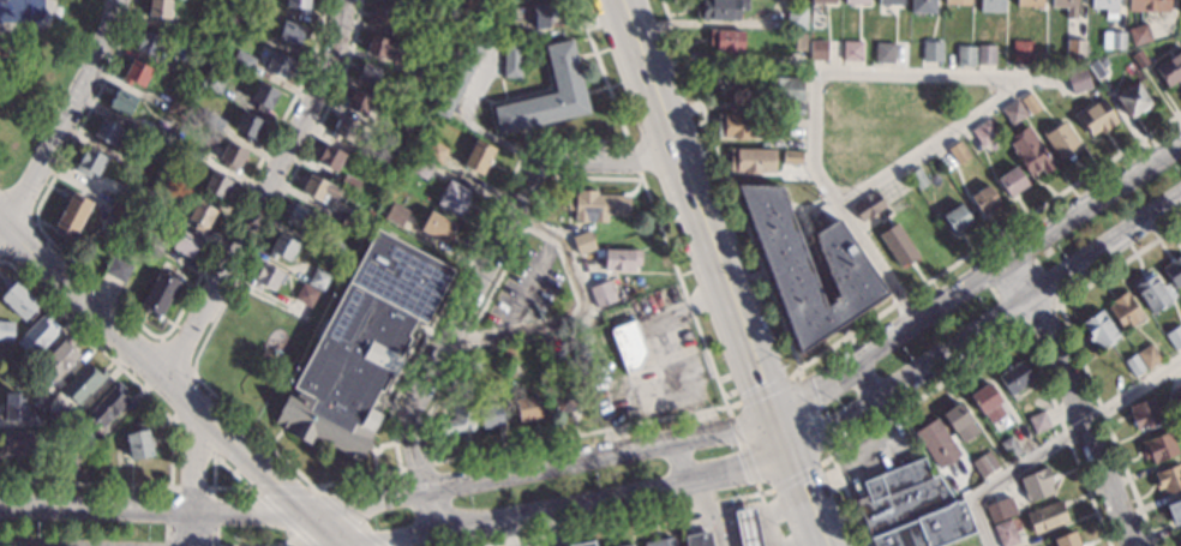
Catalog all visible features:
building: (462, 1)
building: (822, 1)
building: (856, 2)
building: (891, 2)
building: (955, 2)
building: (1029, 4)
building: (299, 5)
building: (1149, 5)
building: (427, 6)
building: (922, 6)
building: (990, 6)
building: (1066, 7)
building: (1105, 7)
building: (1180, 7)
building: (158, 8)
building: (719, 10)
building: (533, 14)
building: (382, 16)
building: (796, 18)
road: (34, 25)
building: (292, 34)
building: (1139, 35)
building: (420, 38)
building: (725, 40)
building: (1111, 40)
building: (799, 42)
building: (149, 43)
building: (384, 48)
building: (817, 49)
building: (1074, 49)
building: (851, 50)
building: (931, 50)
building: (1021, 52)
building: (883, 53)
building: (985, 54)
building: (966, 55)
building: (512, 60)
building: (1138, 60)
building: (242, 61)
building: (1104, 64)
building: (280, 65)
building: (1170, 68)
park: (36, 70)
building: (1096, 70)
road: (909, 72)
building: (370, 73)
building: (136, 74)
building: (431, 74)
building: (458, 77)
building: (1078, 80)
building: (214, 83)
building: (779, 89)
building: (548, 95)
building: (262, 97)
building: (1133, 100)
building: (358, 101)
building: (122, 102)
building: (1029, 104)
building: (413, 106)
building: (178, 107)
building: (793, 109)
building: (1013, 113)
road: (64, 115)
building: (1096, 118)
building: (214, 122)
building: (739, 126)
building: (247, 127)
building: (107, 132)
building: (347, 132)
building: (984, 133)
building: (161, 137)
building: (1062, 143)
building: (191, 151)
building: (436, 152)
building: (958, 152)
building: (1030, 152)
building: (232, 156)
building: (330, 157)
building: (479, 157)
building: (792, 158)
building: (751, 161)
building: (89, 163)
building: (388, 164)
building: (142, 167)
building: (420, 167)
building: (917, 178)
building: (1012, 181)
building: (349, 184)
building: (217, 186)
building: (318, 188)
building: (158, 190)
road: (260, 191)
building: (128, 197)
building: (452, 198)
building: (984, 200)
building: (597, 206)
building: (868, 206)
building: (118, 212)
building: (72, 214)
building: (395, 215)
building: (199, 216)
building: (298, 216)
building: (957, 218)
building: (350, 223)
building: (437, 227)
building: (110, 229)
building: (583, 242)
building: (152, 244)
building: (186, 244)
building: (888, 245)
building: (282, 247)
building: (337, 252)
road: (487, 258)
building: (622, 259)
building: (118, 268)
building: (808, 268)
building: (1173, 271)
road: (723, 272)
building: (266, 277)
building: (318, 278)
building: (160, 293)
building: (601, 294)
building: (1151, 294)
building: (305, 295)
building: (18, 300)
building: (1125, 311)
road: (664, 316)
road: (586, 318)
building: (1098, 329)
building: (6, 331)
building: (36, 335)
building: (1174, 337)
building: (361, 346)
building: (628, 346)
building: (546, 347)
building: (509, 354)
building: (1149, 356)
building: (59, 358)
building: (473, 361)
building: (1133, 365)
building: (24, 371)
building: (1014, 378)
road: (829, 380)
building: (83, 382)
traffic signals: (762, 382)
road: (657, 383)
road: (172, 384)
building: (460, 389)
traffic signals: (815, 391)
building: (1176, 395)
building: (38, 400)
road: (1073, 400)
building: (563, 401)
building: (987, 403)
building: (107, 404)
building: (14, 408)
building: (527, 408)
building: (1144, 414)
building: (490, 415)
building: (62, 419)
building: (458, 419)
building: (1038, 421)
building: (959, 424)
road: (1055, 440)
building: (137, 442)
building: (20, 443)
road: (803, 443)
building: (936, 443)
building: (86, 444)
building: (1011, 448)
building: (1158, 448)
building: (66, 458)
building: (984, 464)
traffic signals: (741, 468)
road: (193, 475)
building: (1168, 479)
building: (1036, 485)
traffic signals: (801, 486)
road: (430, 509)
building: (911, 509)
road: (212, 510)
building: (1001, 510)
building: (1175, 511)
building: (1047, 517)
road: (554, 526)
building: (745, 528)
road: (509, 530)
building: (1006, 534)
building: (697, 539)
building: (1067, 539)
building: (1179, 539)
building: (659, 542)
building: (583, 544)
road: (0, 545)
building: (625, 545)

